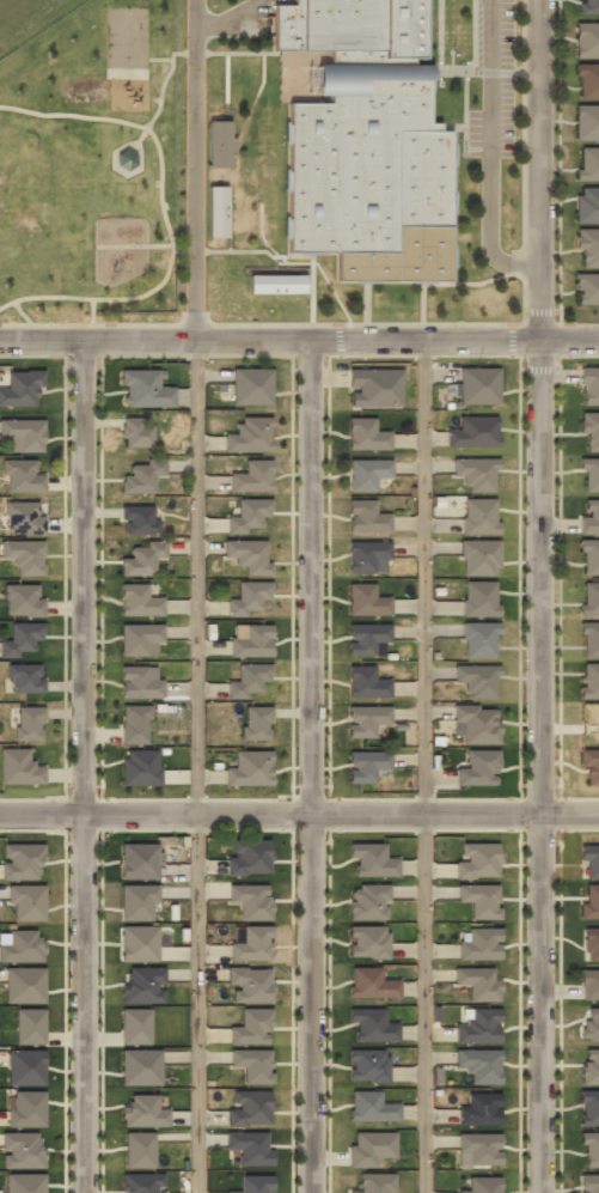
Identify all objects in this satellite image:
building: (589, 6)
airport: (27, 19)
park: (126, 37)
building: (586, 39)
building: (587, 80)
building: (586, 122)
building: (366, 142)
building: (219, 144)
road: (490, 151)
building: (126, 159)
building: (588, 163)
road: (194, 170)
building: (586, 203)
building: (218, 212)
building: (587, 245)
building: (276, 285)
building: (587, 288)
road: (299, 341)
building: (250, 385)
building: (478, 385)
building: (589, 385)
building: (20, 386)
building: (374, 388)
building: (143, 390)
road: (537, 408)
building: (589, 430)
building: (473, 431)
building: (24, 432)
building: (135, 433)
building: (249, 434)
building: (365, 434)
building: (476, 471)
building: (366, 473)
building: (589, 473)
building: (19, 475)
building: (251, 475)
building: (142, 476)
building: (247, 515)
building: (478, 515)
building: (589, 515)
building: (23, 517)
building: (365, 517)
building: (137, 519)
building: (247, 553)
building: (23, 555)
building: (478, 555)
building: (367, 556)
building: (589, 556)
building: (141, 559)
building: (247, 596)
building: (478, 597)
building: (589, 597)
building: (23, 599)
building: (139, 601)
building: (365, 601)
building: (20, 638)
building: (365, 638)
building: (478, 639)
building: (589, 639)
building: (140, 640)
building: (250, 640)
building: (24, 677)
building: (247, 678)
building: (476, 678)
building: (589, 680)
building: (140, 681)
building: (365, 682)
building: (367, 722)
building: (27, 723)
building: (255, 723)
building: (475, 723)
building: (135, 724)
building: (365, 765)
building: (589, 765)
road: (197, 766)
building: (18, 767)
road: (90, 767)
building: (139, 767)
road: (312, 767)
road: (424, 767)
building: (477, 767)
building: (247, 768)
road: (299, 818)
building: (249, 857)
building: (476, 859)
building: (22, 860)
building: (589, 860)
building: (137, 862)
building: (371, 862)
building: (250, 899)
building: (478, 899)
building: (368, 901)
building: (589, 901)
building: (26, 902)
building: (137, 903)
building: (367, 941)
building: (251, 942)
building: (139, 943)
building: (478, 943)
building: (591, 944)
building: (23, 945)
building: (477, 982)
building: (24, 984)
building: (142, 984)
building: (249, 984)
building: (369, 984)
building: (588, 984)
road: (538, 1005)
building: (589, 1024)
building: (135, 1025)
building: (251, 1025)
building: (371, 1025)
building: (477, 1025)
building: (29, 1027)
building: (251, 1063)
building: (477, 1063)
building: (589, 1065)
building: (367, 1066)
building: (25, 1067)
building: (140, 1067)
building: (247, 1106)
building: (369, 1107)
building: (588, 1107)
building: (26, 1108)
building: (479, 1108)
building: (142, 1112)
building: (249, 1145)
building: (478, 1146)
building: (368, 1148)
building: (589, 1149)
building: (22, 1150)
building: (139, 1150)
building: (24, 1183)
building: (143, 1183)
building: (253, 1183)
building: (374, 1183)
building: (588, 1183)
building: (481, 1185)

